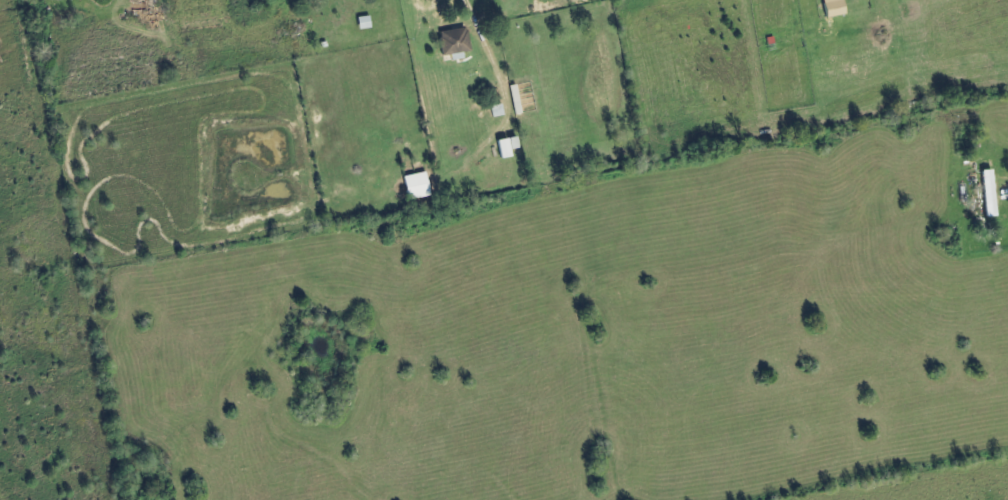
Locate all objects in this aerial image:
building: (834, 8)
building: (365, 23)
road: (482, 34)
building: (456, 44)
building: (508, 148)
building: (417, 187)
building: (990, 194)
road: (1005, 195)

